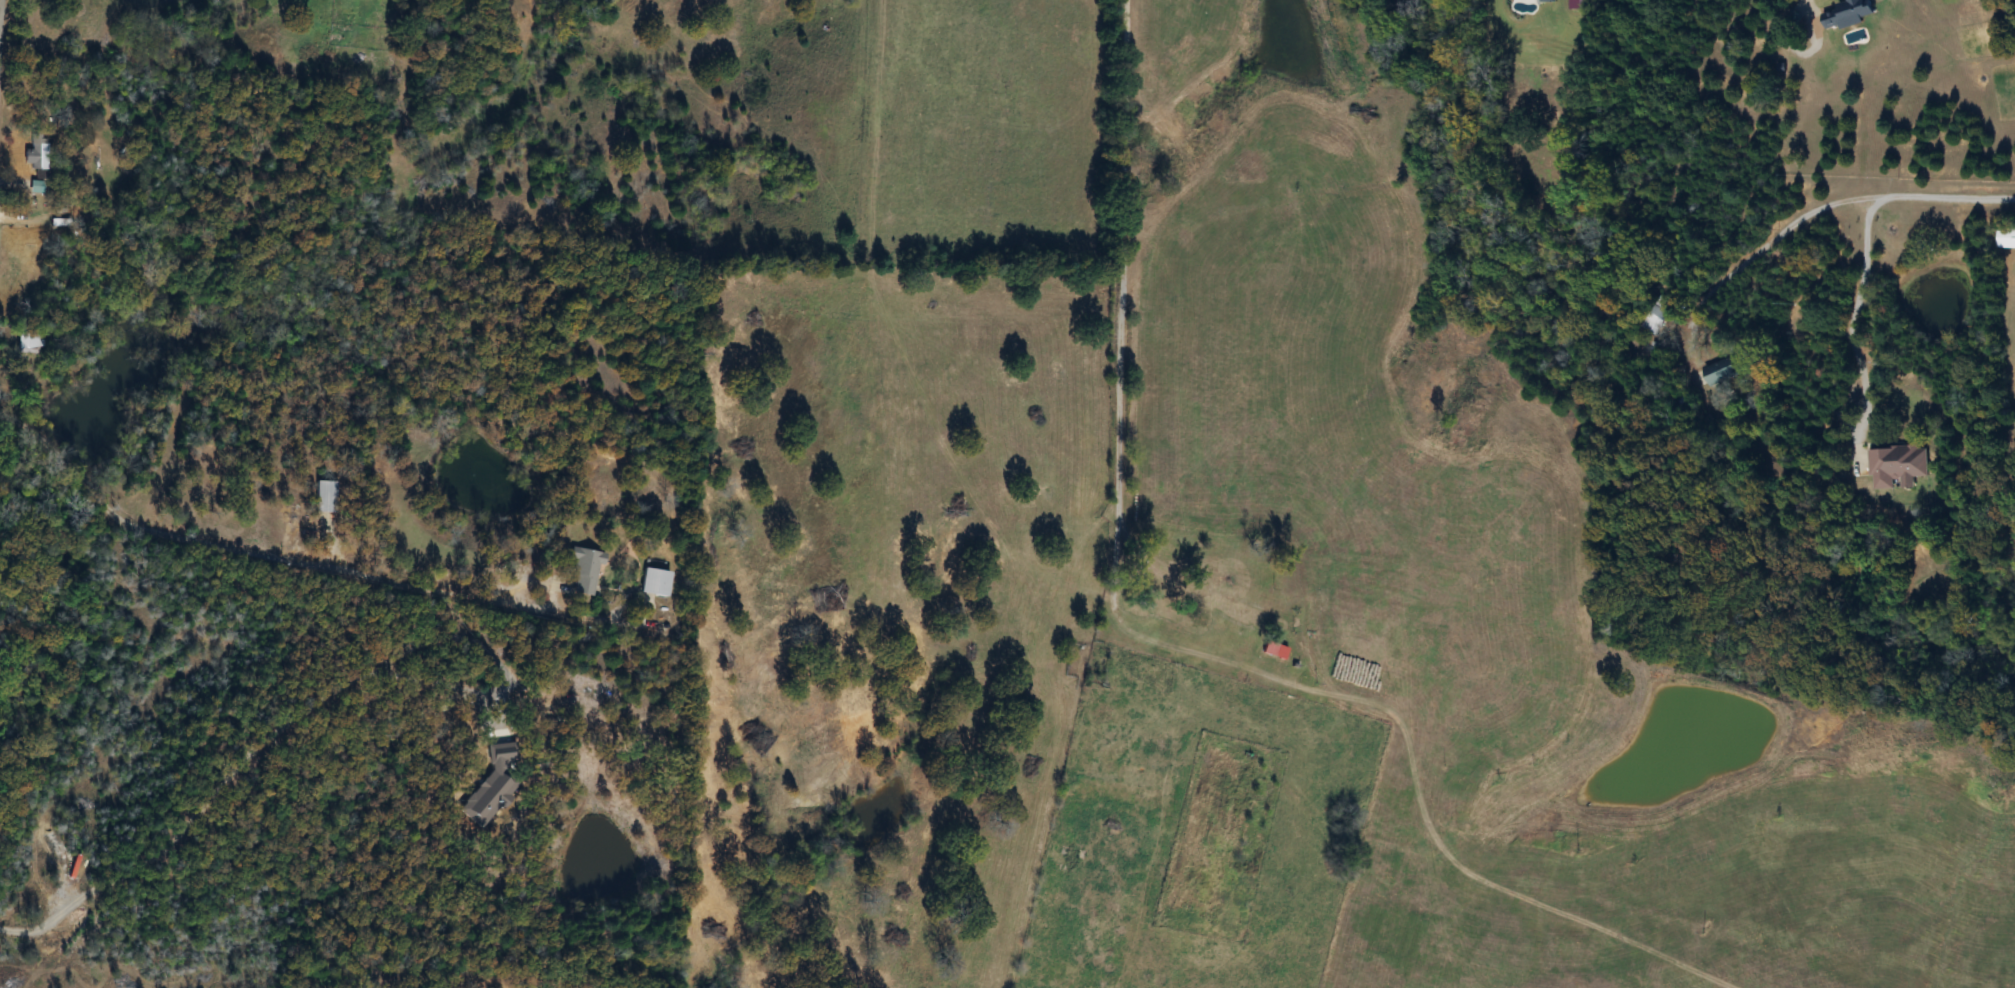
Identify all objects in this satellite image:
road: (1806, 7)
building: (1845, 14)
road: (1013, 66)
road: (2005, 126)
building: (30, 157)
road: (1944, 191)
road: (1770, 233)
building: (2006, 239)
building: (1655, 317)
road: (1851, 324)
building: (21, 344)
building: (1718, 372)
building: (1894, 465)
building: (323, 498)
road: (304, 558)
building: (584, 570)
building: (654, 583)
building: (1223, 596)

